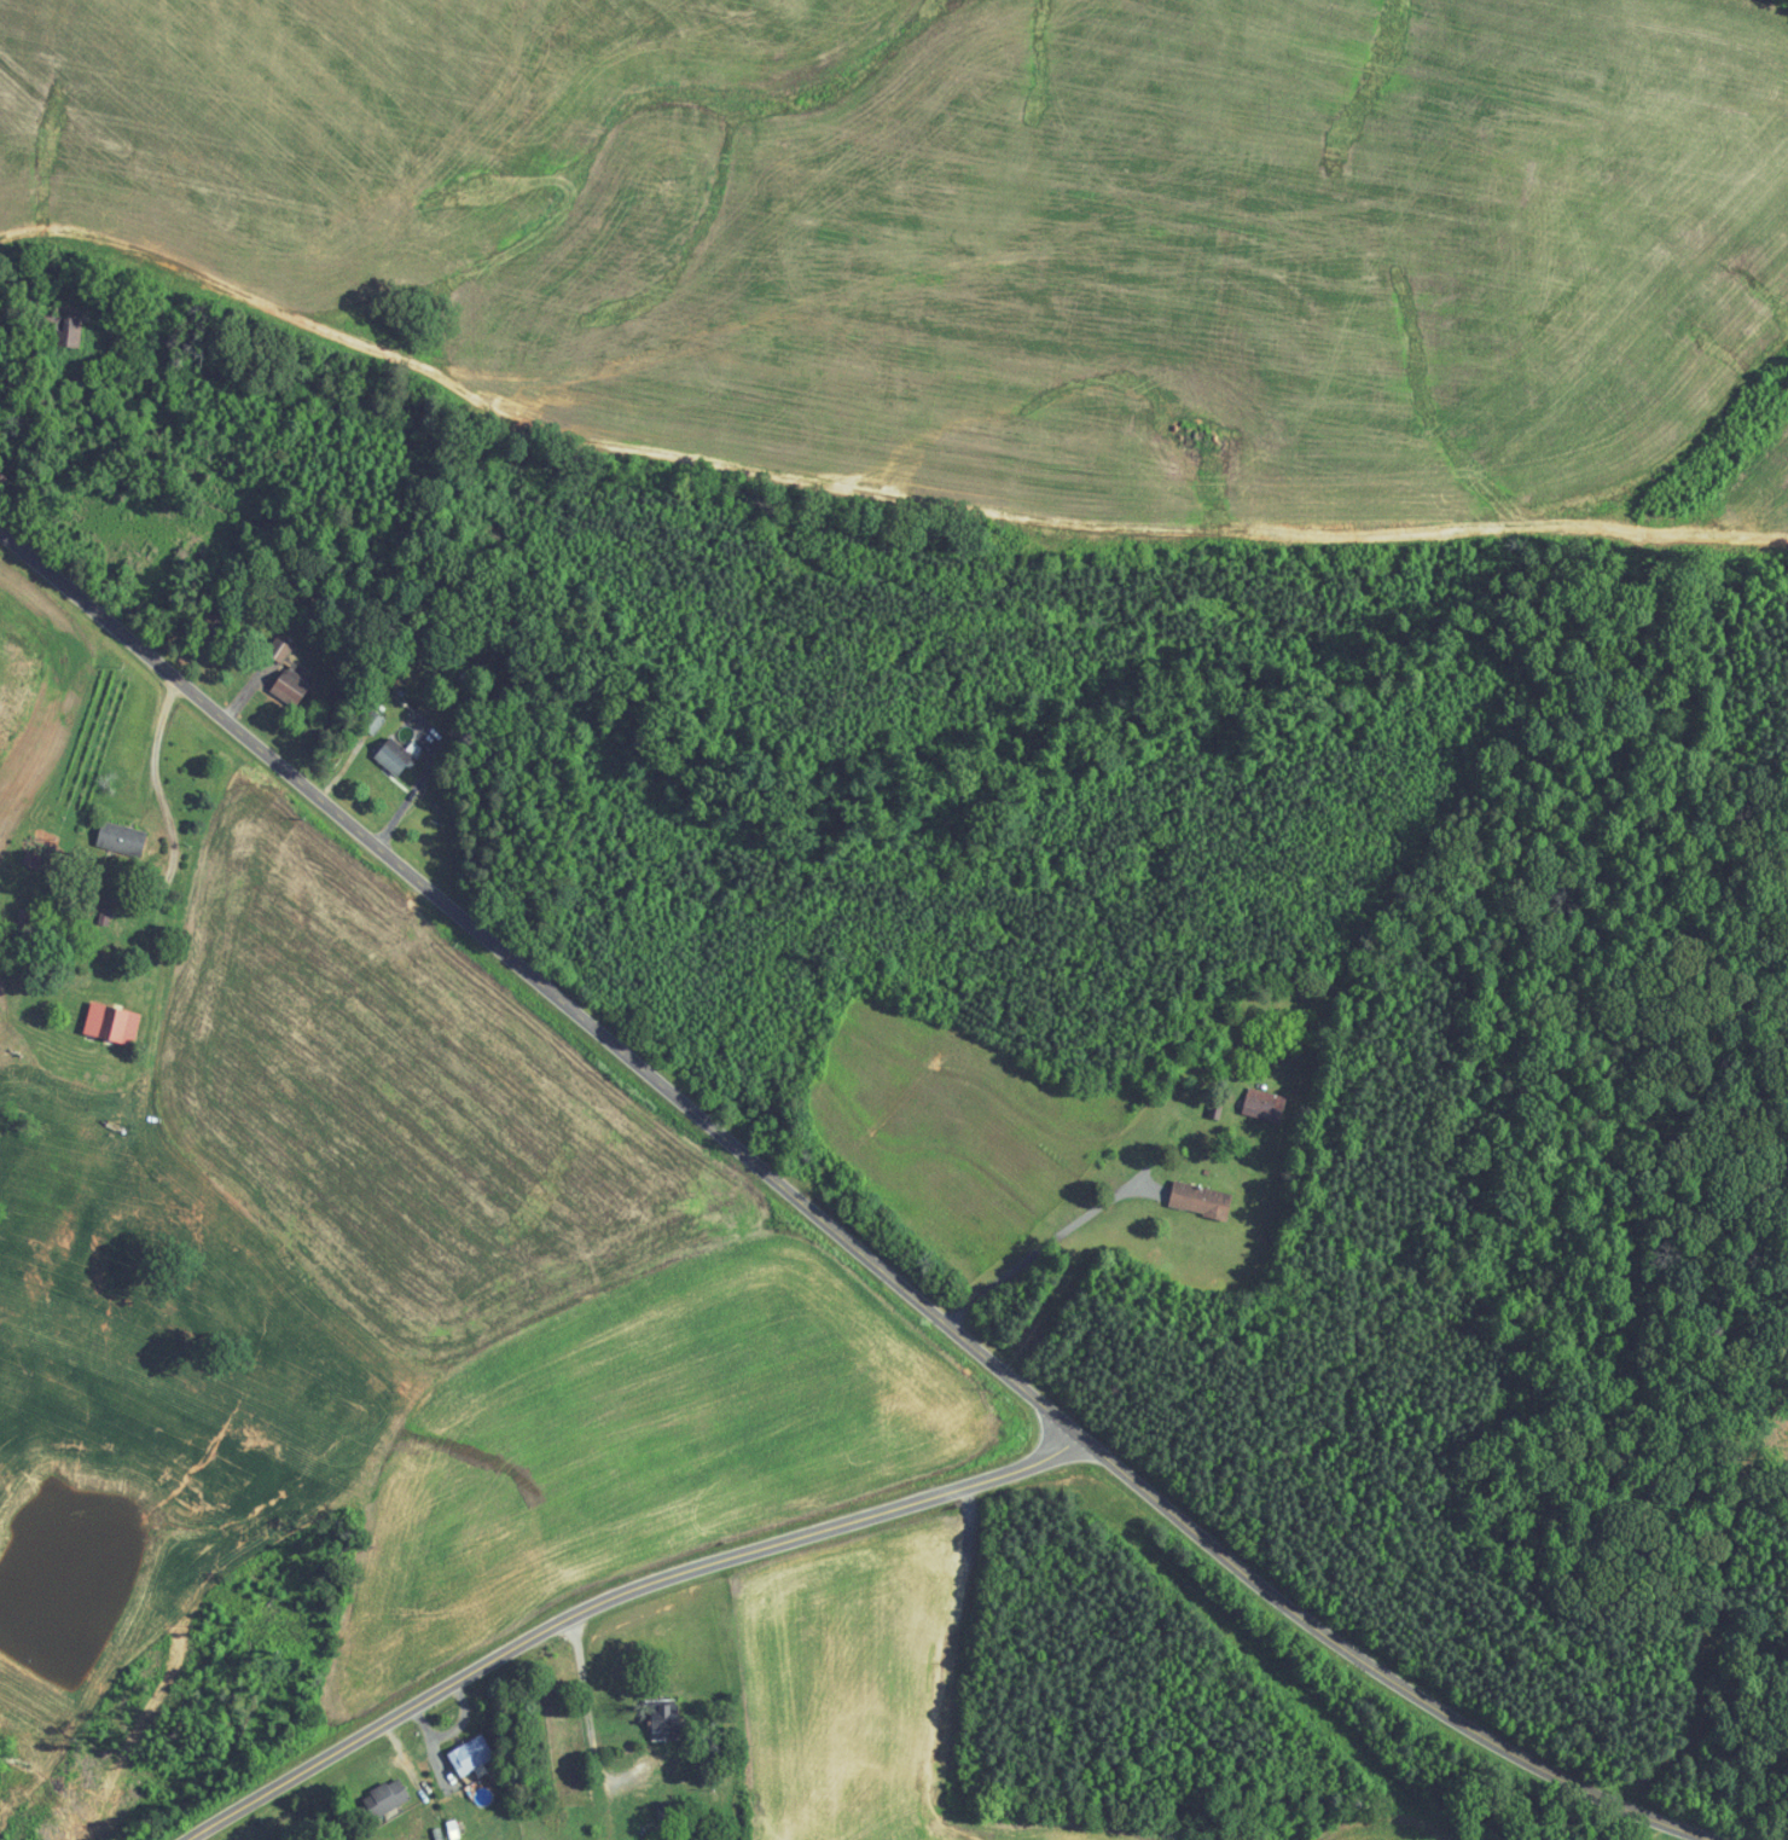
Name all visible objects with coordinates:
building: (68, 331)
building: (277, 649)
building: (289, 685)
building: (371, 721)
building: (391, 755)
building: (118, 837)
building: (29, 859)
building: (109, 1022)
building: (1264, 1107)
building: (1198, 1198)
road: (835, 1227)
road: (1045, 1250)
road: (643, 1587)
road: (1716, 1702)
road: (588, 1706)
building: (663, 1716)
road: (455, 1736)
building: (468, 1753)
building: (383, 1797)

